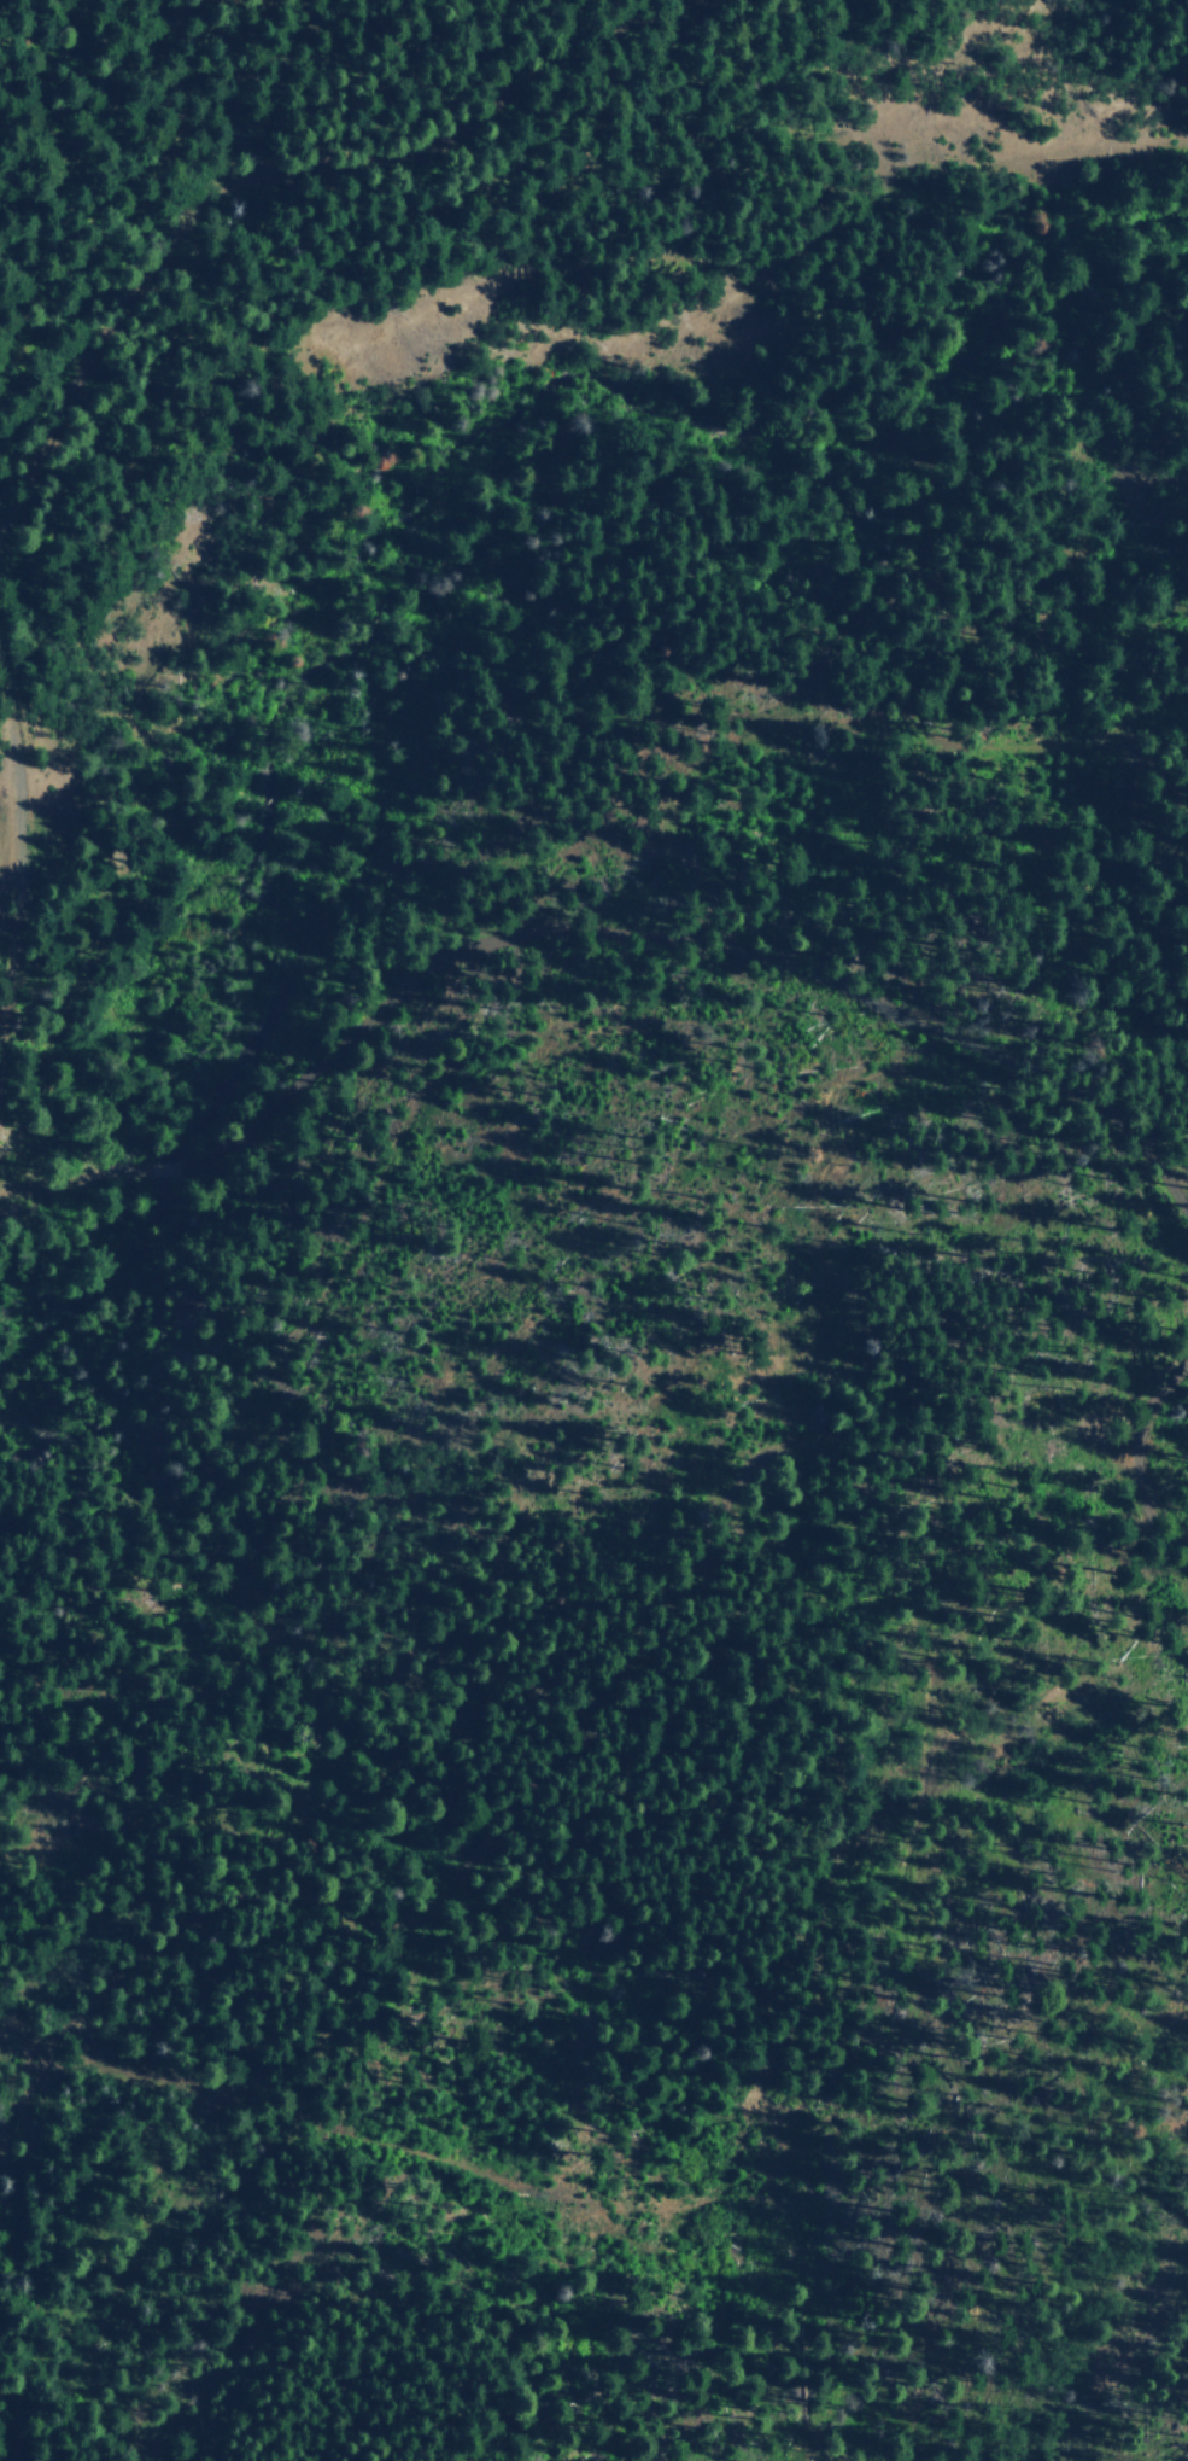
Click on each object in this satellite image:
road: (411, 159)
road: (572, 330)
road: (22, 859)
road: (614, 928)

